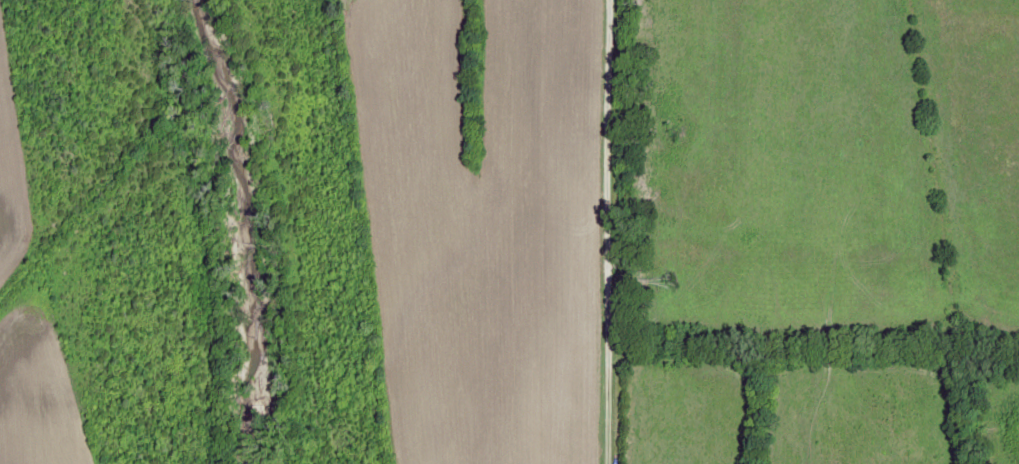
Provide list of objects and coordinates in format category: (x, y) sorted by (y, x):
road: (368, 227)
road: (250, 404)
road: (110, 418)

